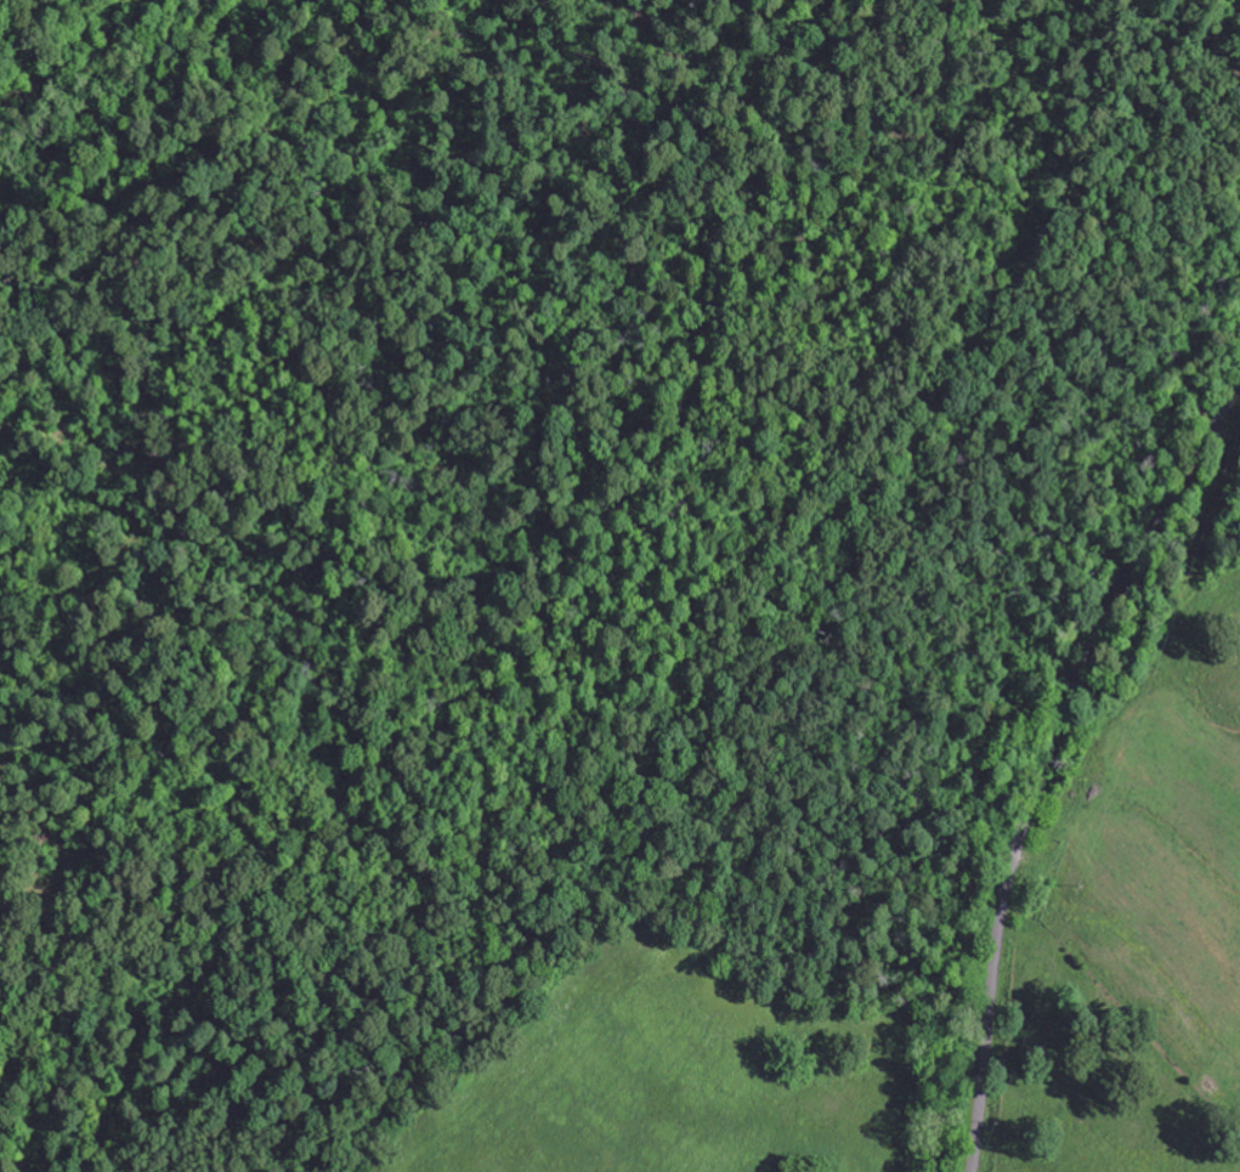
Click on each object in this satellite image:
road: (1051, 757)

